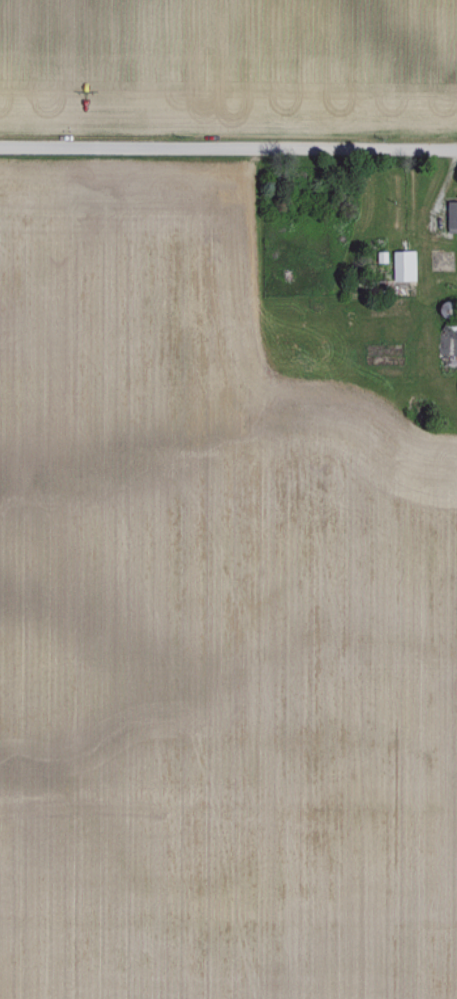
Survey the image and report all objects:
road: (228, 158)
building: (402, 265)

